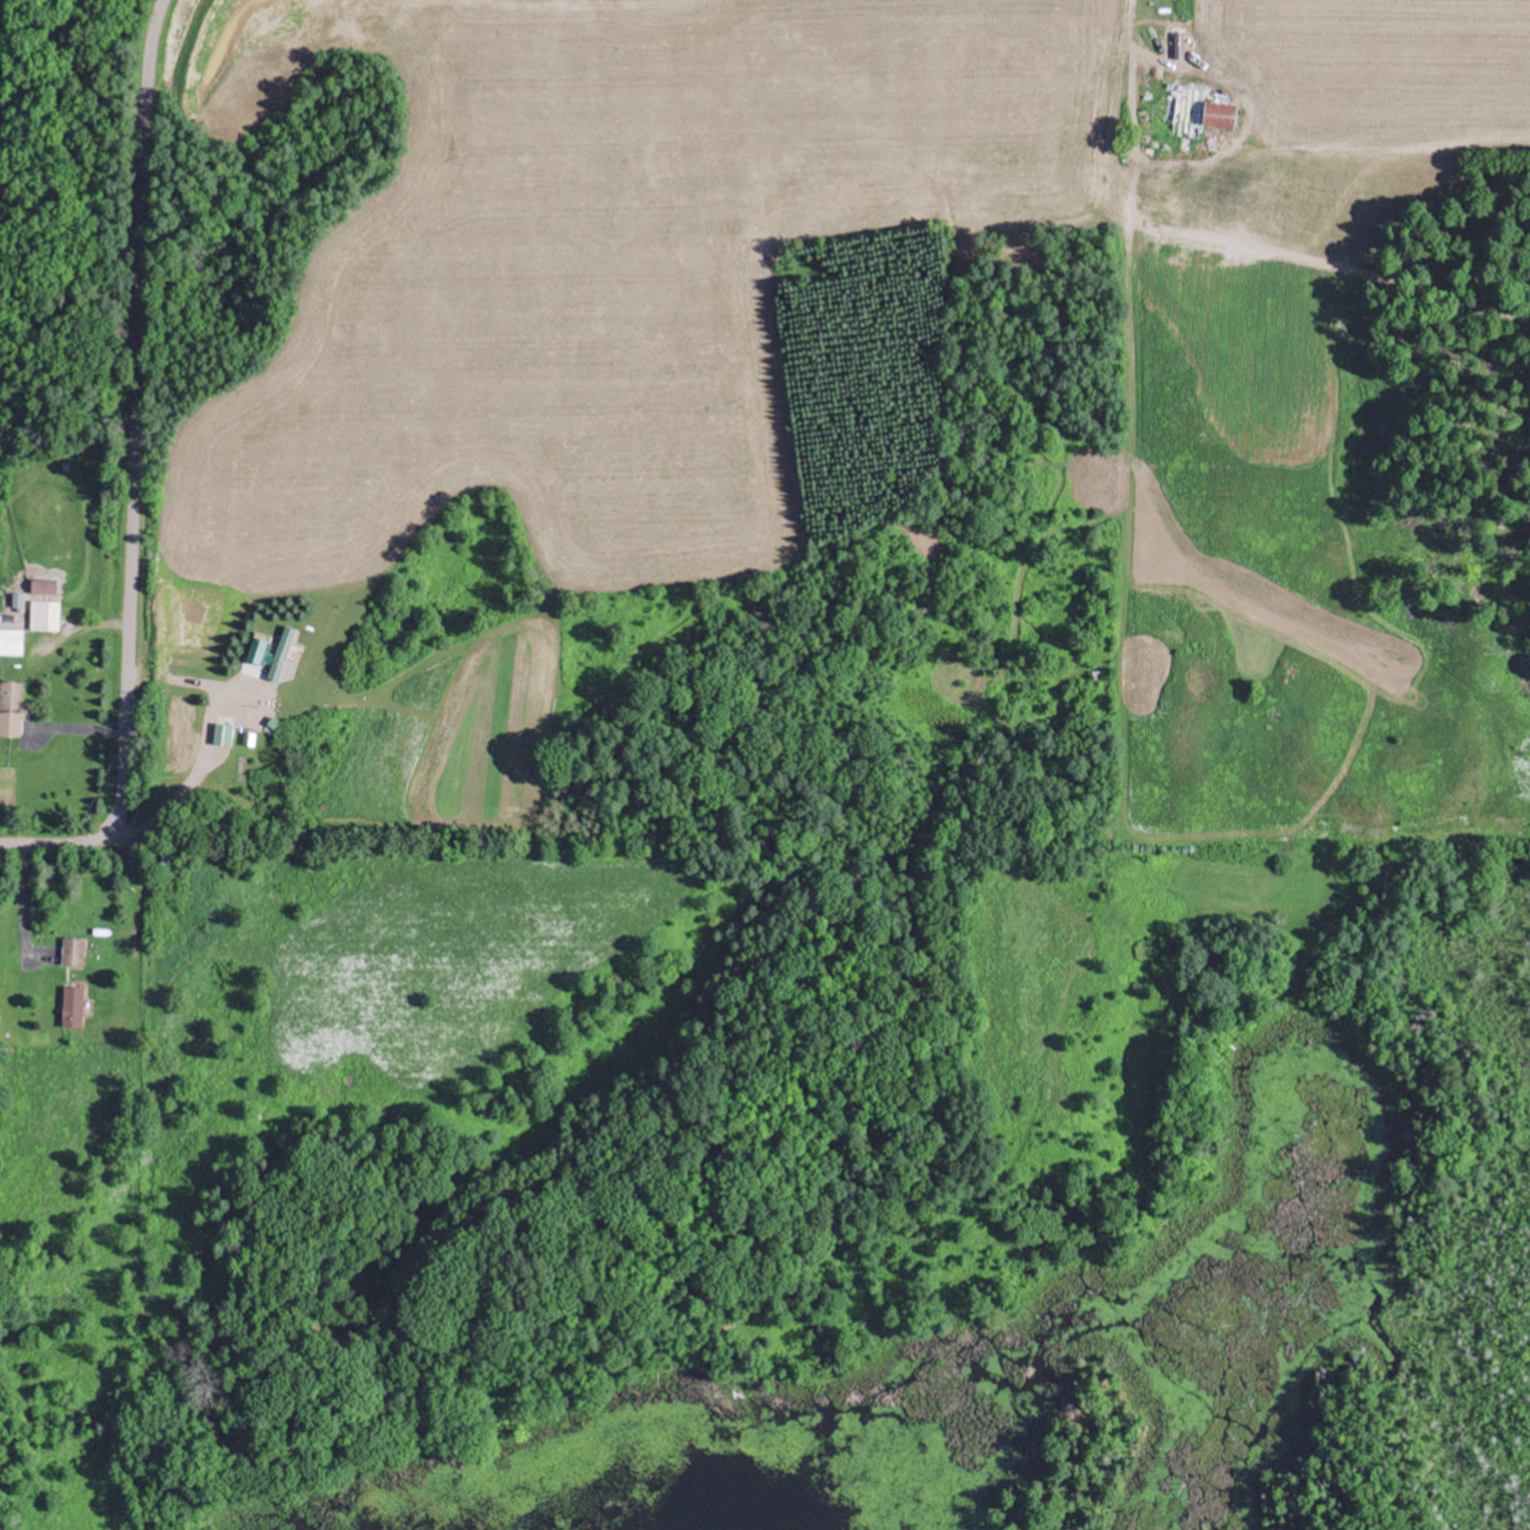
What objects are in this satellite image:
building: (1184, 109)
building: (1219, 115)
road: (131, 470)
building: (43, 584)
building: (43, 614)
road: (101, 621)
building: (10, 640)
building: (279, 654)
road: (190, 681)
building: (11, 706)
road: (83, 730)
building: (222, 733)
building: (172, 854)
road: (139, 875)
road: (24, 889)
building: (71, 950)
building: (72, 1005)

